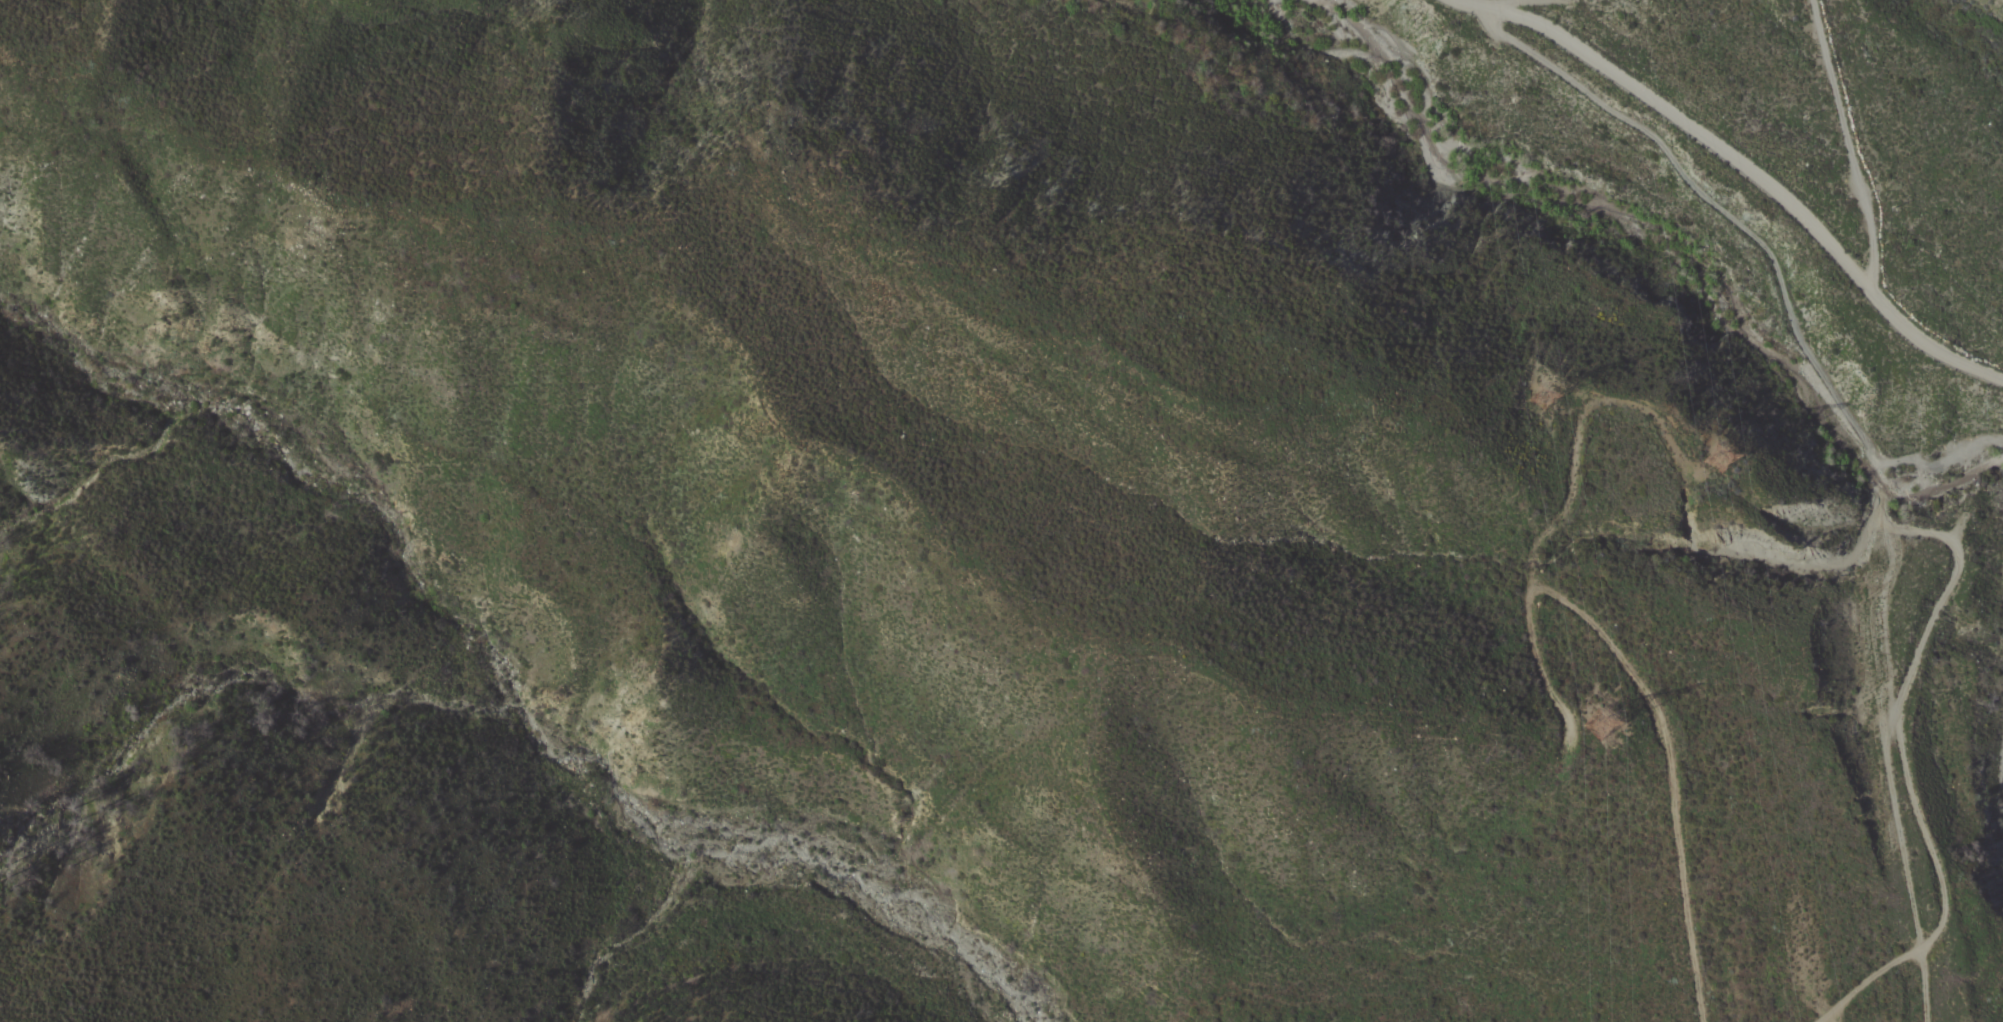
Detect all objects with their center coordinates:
road: (1851, 144)
road: (1747, 169)
road: (1737, 221)
power tower: (1552, 397)
power tower: (1714, 444)
road: (1579, 612)
road: (1896, 704)
power tower: (1614, 732)
road: (1888, 772)
road: (1685, 901)
road: (1869, 984)
road: (1923, 986)
road: (1834, 1016)

